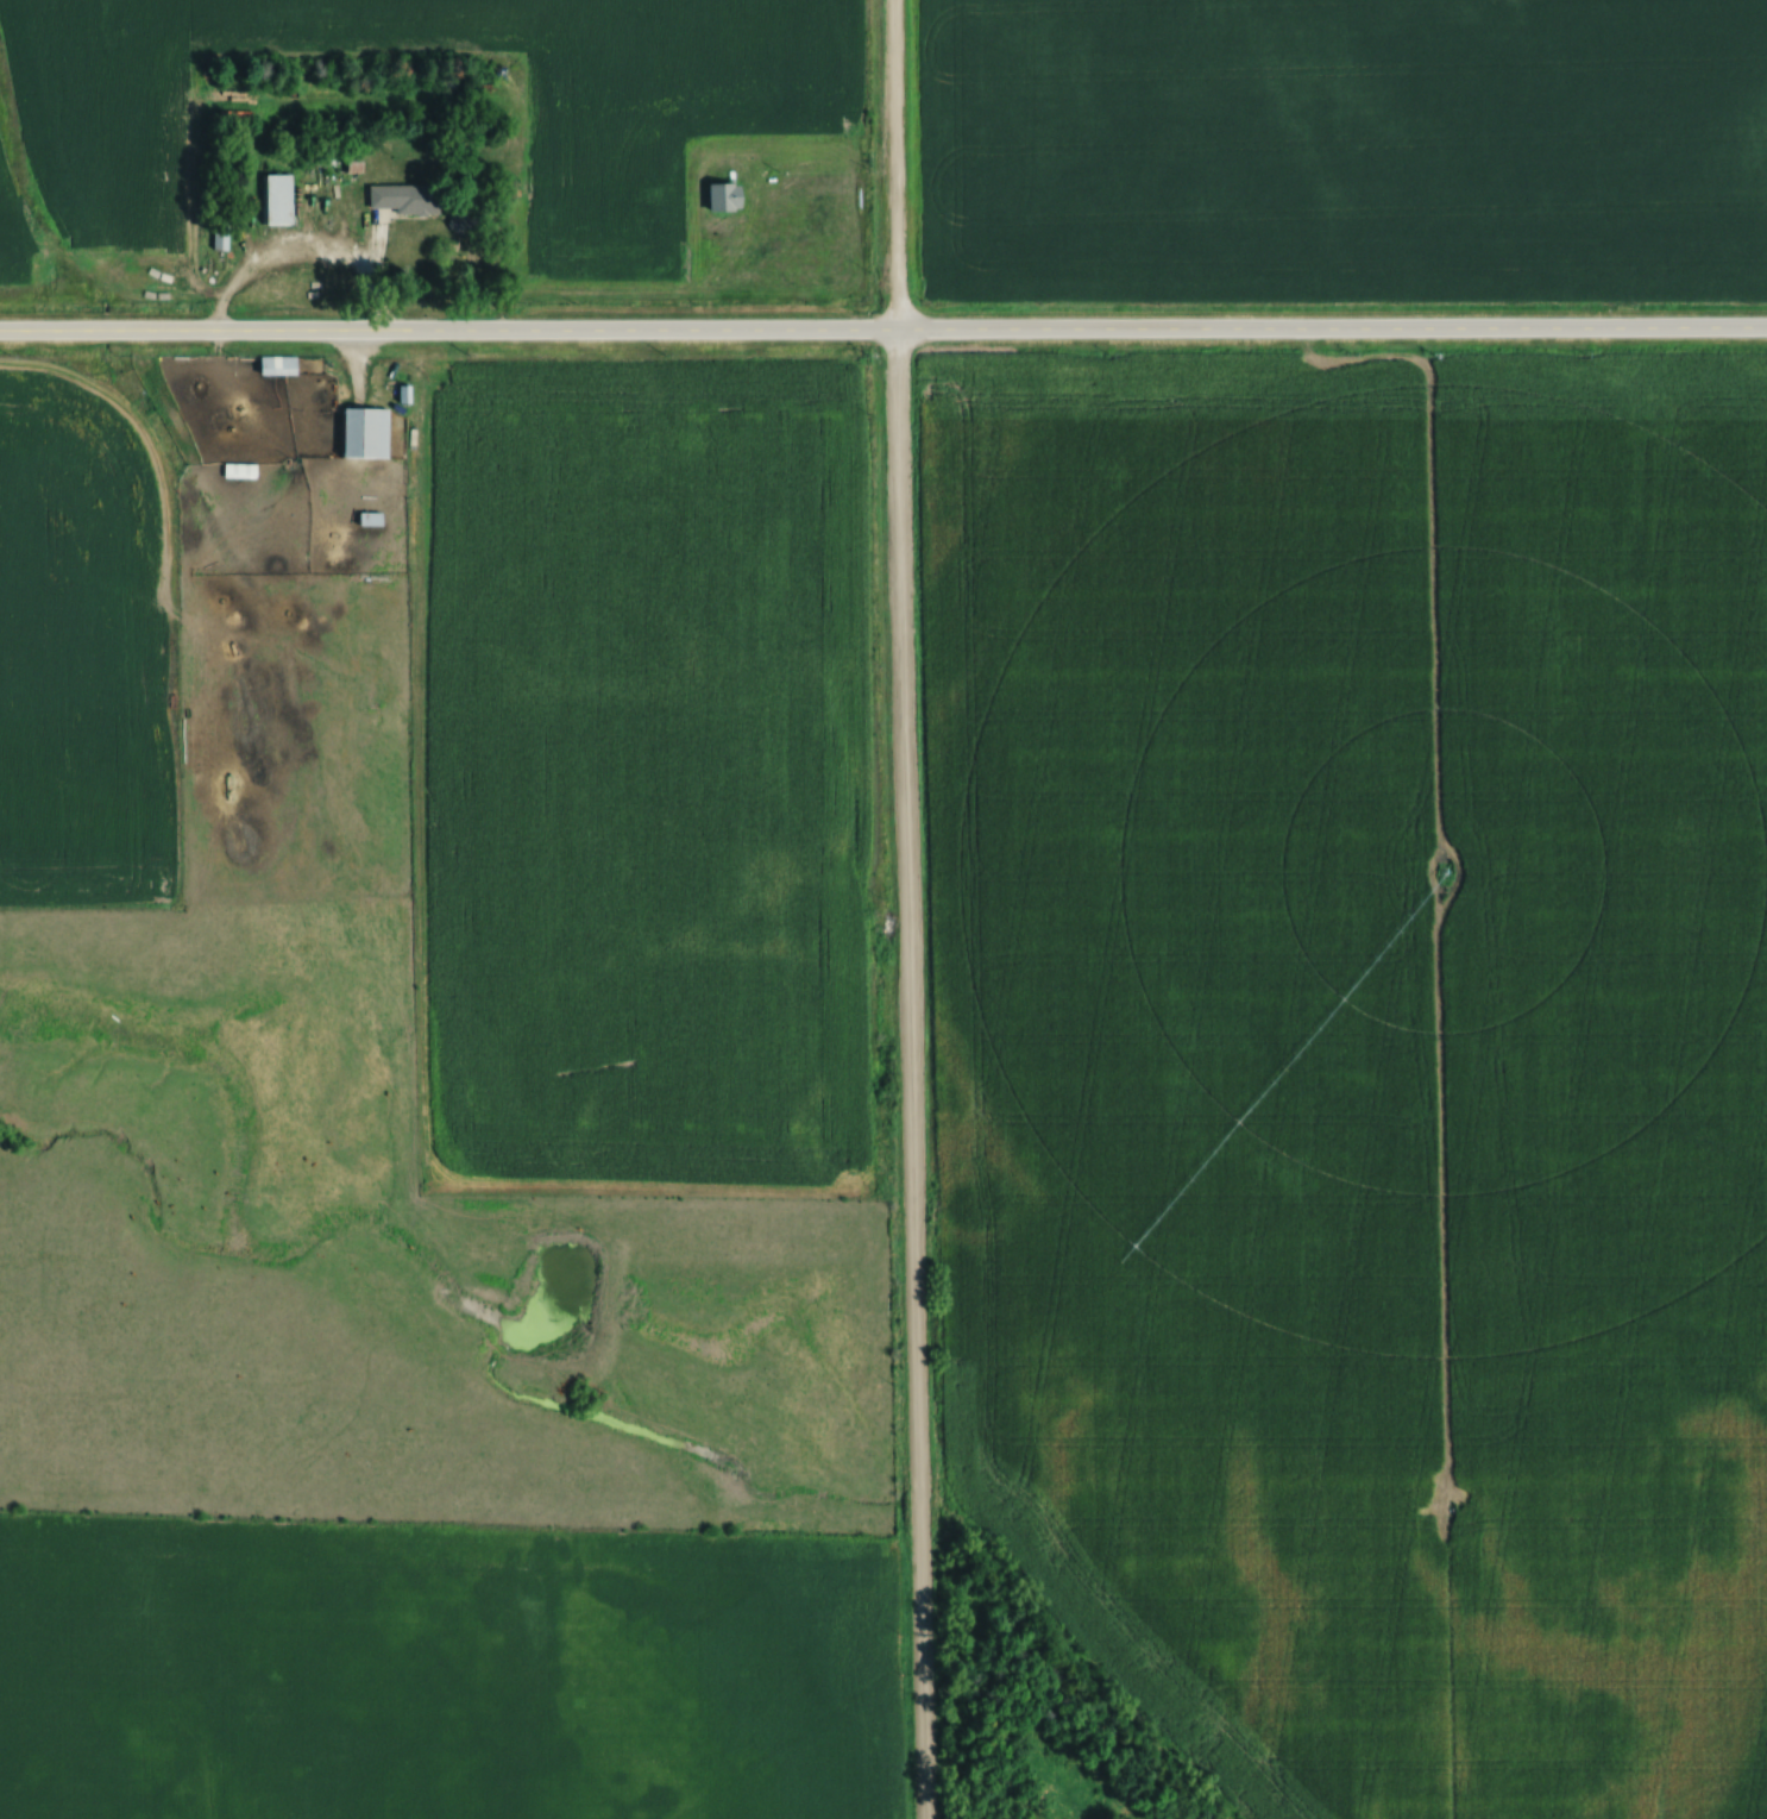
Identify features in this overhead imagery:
building: (731, 195)
building: (410, 196)
building: (282, 197)
building: (463, 220)
building: (225, 236)
road: (302, 245)
road: (882, 327)
building: (283, 364)
building: (372, 431)
building: (376, 518)
road: (910, 909)

